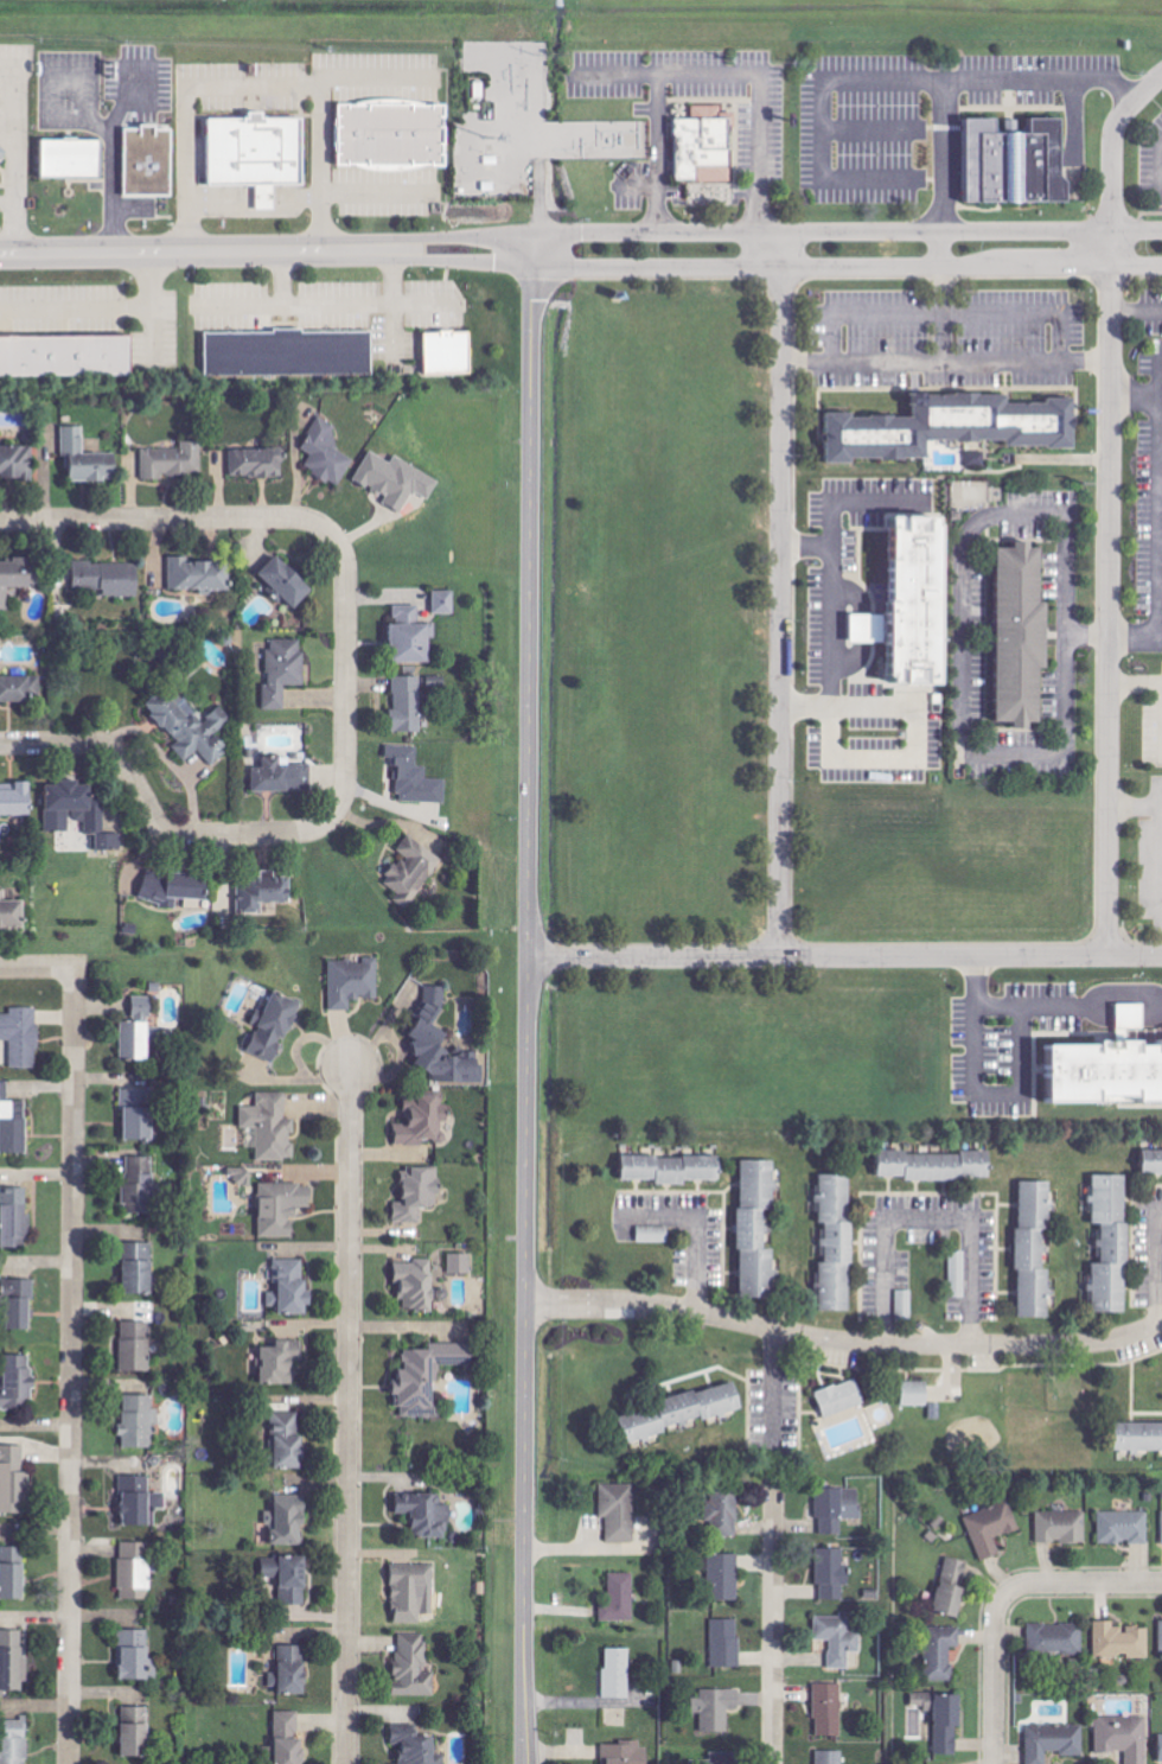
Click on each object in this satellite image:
road: (857, 74)
road: (1040, 75)
road: (255, 83)
road: (754, 83)
building: (1, 90)
road: (7, 132)
building: (395, 134)
road: (1111, 144)
building: (698, 146)
building: (4, 151)
road: (655, 151)
building: (260, 153)
building: (74, 158)
building: (149, 161)
building: (1020, 163)
road: (1160, 166)
road: (535, 171)
road: (107, 186)
road: (12, 225)
road: (823, 230)
road: (1136, 231)
road: (462, 235)
road: (388, 243)
road: (939, 247)
road: (1110, 247)
road: (193, 250)
road: (458, 259)
road: (1136, 263)
road: (822, 266)
road: (1136, 307)
road: (94, 310)
road: (938, 311)
building: (451, 351)
building: (290, 354)
building: (66, 356)
road: (945, 358)
building: (946, 427)
building: (327, 452)
building: (977, 458)
building: (88, 459)
building: (15, 460)
building: (173, 461)
building: (258, 463)
building: (397, 479)
road: (1157, 511)
road: (172, 520)
building: (200, 575)
building: (18, 578)
building: (109, 578)
building: (288, 581)
road: (779, 593)
road: (530, 594)
building: (446, 603)
building: (919, 605)
road: (1109, 609)
road: (953, 611)
building: (1024, 635)
building: (411, 636)
building: (285, 671)
road: (346, 675)
building: (17, 688)
building: (408, 705)
building: (192, 728)
road: (830, 759)
building: (282, 776)
building: (416, 777)
building: (15, 800)
building: (79, 819)
road: (153, 820)
road: (1158, 827)
building: (413, 872)
building: (175, 887)
building: (266, 893)
building: (12, 913)
road: (1135, 955)
road: (817, 956)
road: (37, 968)
building: (355, 982)
building: (143, 1008)
road: (1042, 1013)
building: (274, 1029)
building: (23, 1037)
building: (136, 1042)
building: (442, 1044)
building: (1109, 1075)
building: (139, 1115)
building: (13, 1123)
building: (424, 1123)
building: (272, 1127)
building: (1153, 1164)
building: (937, 1166)
building: (675, 1170)
building: (243, 1178)
building: (140, 1186)
building: (419, 1195)
building: (282, 1209)
road: (915, 1216)
building: (15, 1218)
road: (687, 1228)
building: (759, 1230)
building: (838, 1244)
building: (1113, 1244)
building: (1036, 1250)
road: (1145, 1262)
building: (460, 1263)
building: (139, 1269)
building: (419, 1286)
building: (292, 1289)
building: (20, 1304)
road: (843, 1342)
building: (136, 1346)
road: (525, 1361)
building: (281, 1363)
road: (71, 1365)
building: (429, 1378)
building: (18, 1384)
building: (917, 1394)
building: (842, 1399)
building: (682, 1414)
road: (347, 1415)
building: (140, 1422)
building: (1141, 1438)
building: (288, 1440)
building: (14, 1482)
building: (141, 1503)
building: (837, 1507)
building: (620, 1511)
building: (726, 1511)
building: (427, 1514)
building: (289, 1520)
building: (1062, 1526)
building: (1124, 1527)
building: (992, 1528)
building: (136, 1569)
building: (832, 1572)
building: (13, 1573)
building: (289, 1577)
building: (724, 1577)
road: (1096, 1582)
building: (953, 1587)
building: (413, 1591)
building: (620, 1598)
road: (774, 1618)
building: (1161, 1632)
building: (838, 1638)
building: (1056, 1639)
building: (1122, 1641)
building: (727, 1642)
building: (941, 1651)
building: (136, 1655)
building: (13, 1660)
road: (994, 1664)
building: (414, 1666)
building: (292, 1670)
building: (618, 1671)
building: (924, 1700)
building: (717, 1707)
building: (829, 1708)
building: (949, 1722)
building: (136, 1731)
building: (1125, 1737)
building: (287, 1739)
building: (13, 1740)
building: (1054, 1741)
building: (417, 1745)
building: (626, 1752)
building: (726, 1757)
building: (829, 1757)

